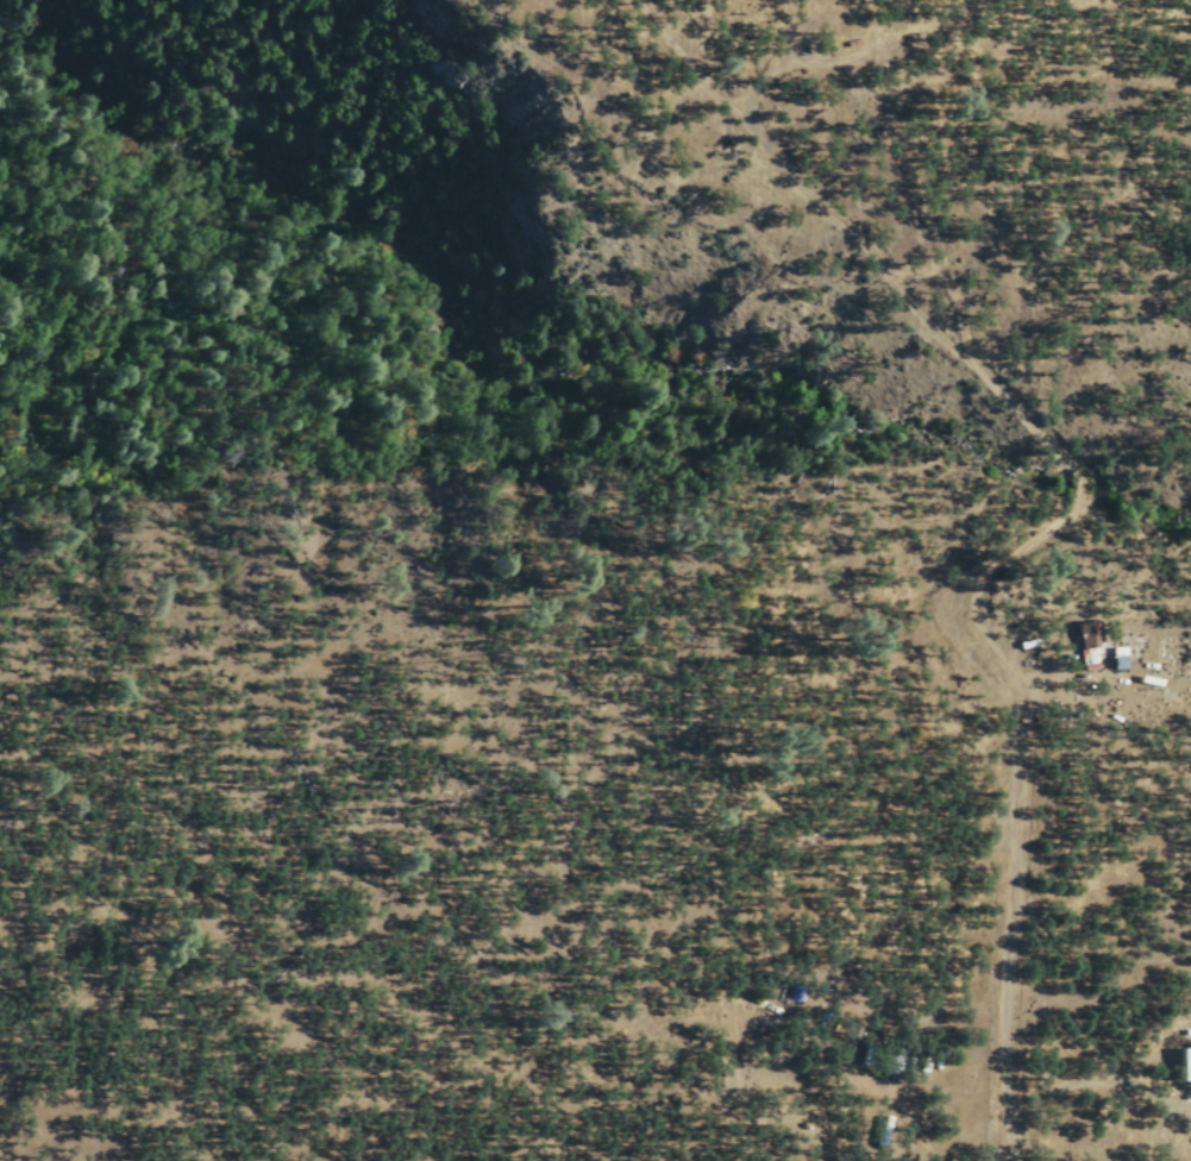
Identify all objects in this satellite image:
building: (1089, 641)
building: (1186, 1062)

